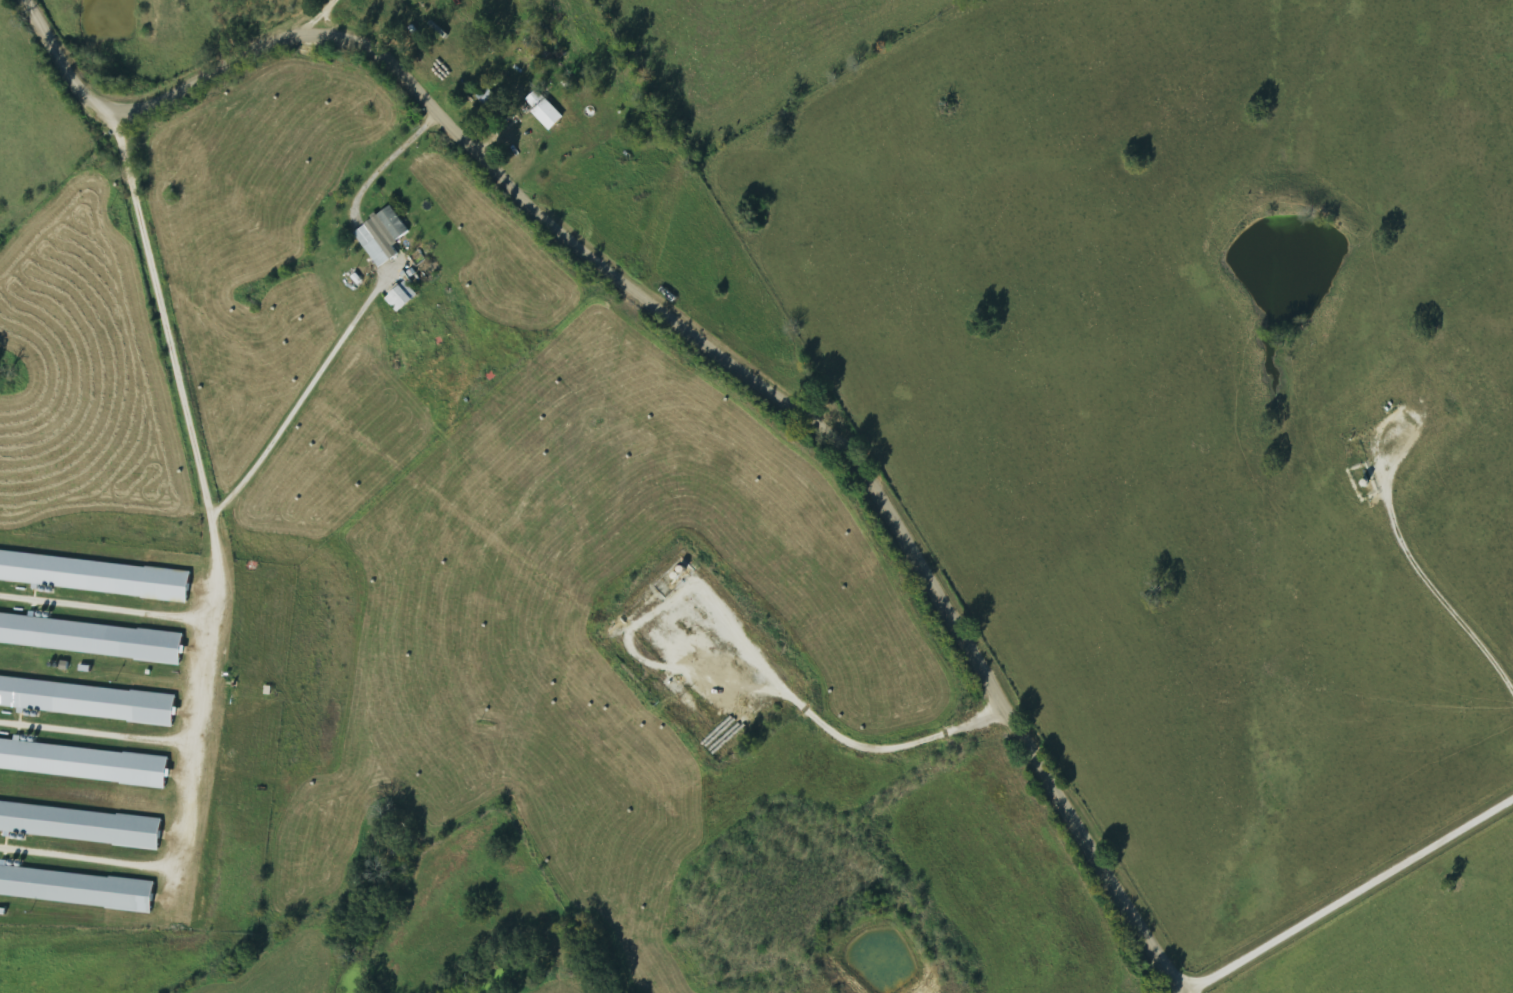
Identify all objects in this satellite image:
building: (546, 111)
dam: (1283, 203)
building: (384, 236)
building: (404, 298)
road: (685, 325)
building: (95, 576)
building: (91, 638)
building: (89, 701)
building: (84, 763)
building: (81, 824)
building: (77, 887)
road: (1349, 896)

